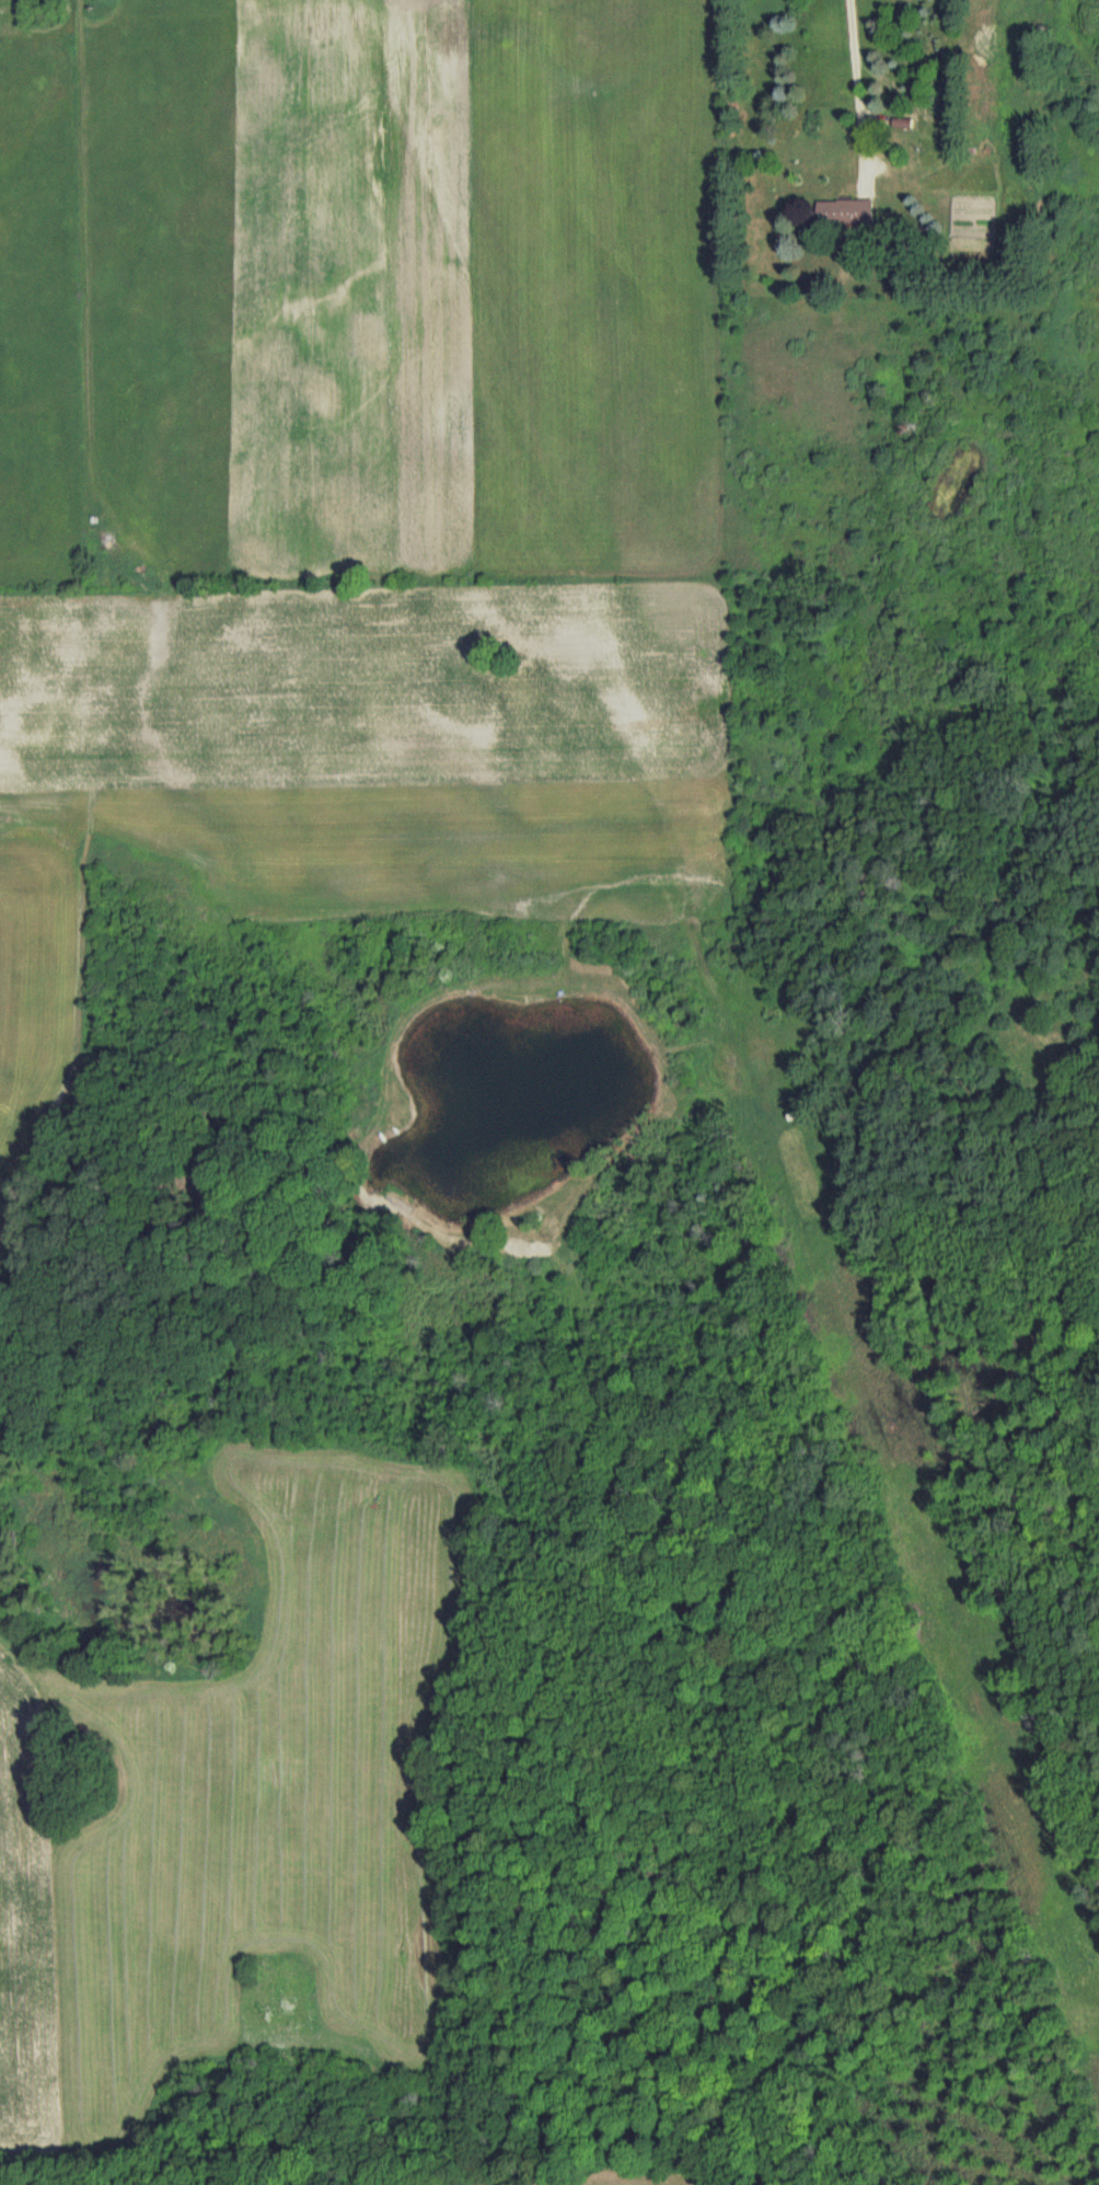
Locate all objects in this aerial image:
road: (857, 97)
building: (846, 212)

